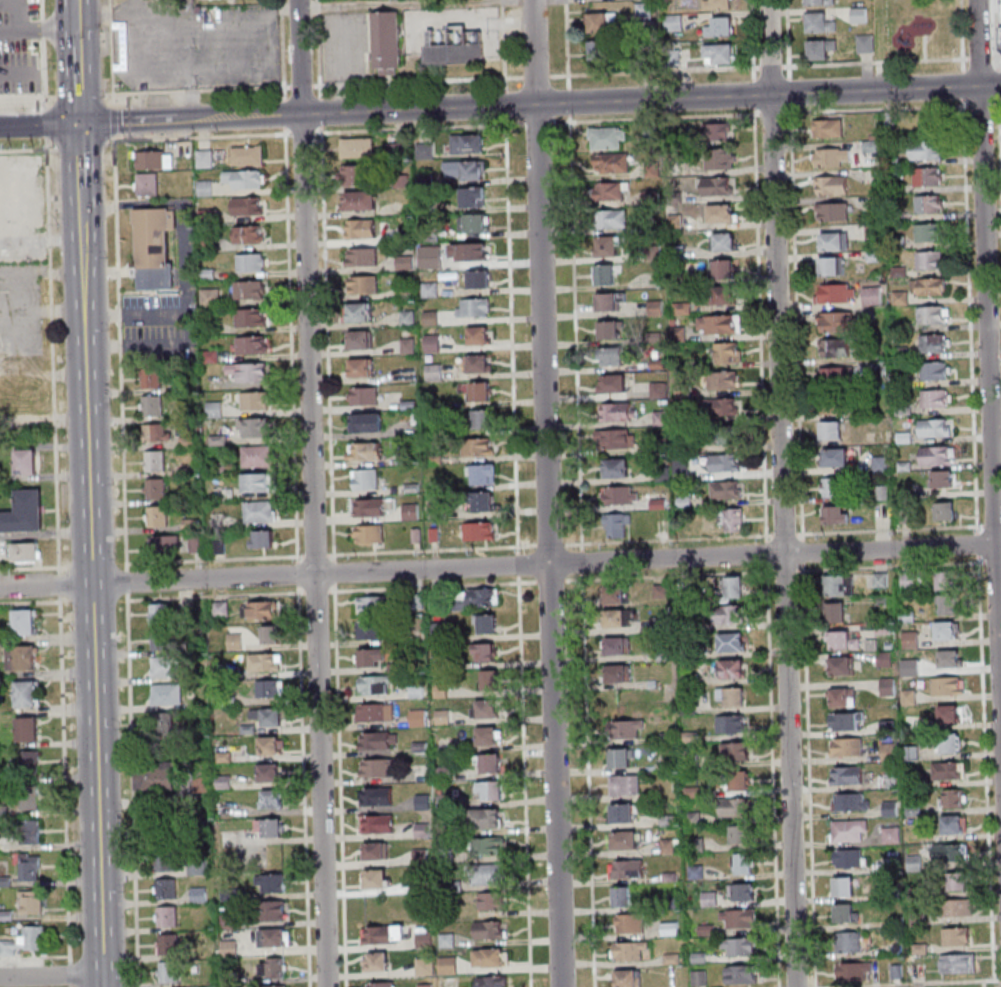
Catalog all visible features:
building: (820, 2)
road: (401, 5)
building: (717, 5)
road: (42, 9)
road: (276, 11)
road: (78, 14)
road: (19, 15)
building: (858, 15)
building: (673, 22)
building: (819, 22)
building: (598, 23)
road: (173, 25)
road: (42, 28)
building: (719, 28)
park: (926, 29)
road: (40, 30)
building: (385, 42)
power substation: (454, 42)
building: (865, 44)
parking lot: (198, 45)
parking lot: (16, 48)
building: (819, 48)
building: (599, 51)
building: (718, 54)
building: (456, 55)
road: (571, 61)
road: (507, 62)
road: (251, 63)
road: (143, 66)
road: (774, 67)
road: (18, 72)
road: (46, 74)
road: (81, 76)
road: (430, 81)
road: (193, 92)
road: (80, 97)
road: (28, 98)
road: (597, 101)
road: (897, 108)
road: (138, 120)
traffic signals: (83, 123)
road: (41, 124)
road: (48, 124)
building: (931, 124)
building: (827, 128)
building: (718, 131)
road: (312, 133)
building: (607, 139)
road: (112, 142)
building: (468, 143)
road: (84, 145)
building: (357, 148)
building: (395, 149)
road: (30, 150)
building: (424, 150)
building: (924, 150)
building: (247, 155)
road: (83, 157)
building: (831, 157)
building: (719, 158)
building: (204, 159)
building: (158, 161)
building: (610, 164)
building: (465, 170)
building: (358, 175)
building: (927, 177)
building: (244, 178)
building: (429, 179)
building: (401, 180)
building: (831, 184)
building: (152, 186)
building: (718, 186)
building: (610, 192)
building: (472, 196)
building: (360, 199)
building: (246, 205)
building: (928, 205)
parking lot: (24, 208)
building: (429, 209)
building: (831, 211)
building: (721, 214)
building: (610, 220)
building: (473, 222)
building: (360, 229)
building: (406, 233)
building: (928, 233)
building: (248, 234)
building: (433, 234)
road: (67, 240)
building: (833, 240)
road: (24, 241)
building: (723, 241)
building: (607, 246)
building: (157, 250)
building: (470, 251)
building: (362, 256)
building: (405, 261)
building: (929, 261)
building: (251, 262)
road: (798, 266)
building: (831, 266)
road: (762, 267)
building: (723, 269)
road: (43, 273)
building: (603, 274)
building: (478, 279)
building: (364, 284)
road: (121, 286)
building: (928, 288)
building: (249, 289)
building: (433, 291)
building: (837, 293)
road: (990, 293)
building: (722, 294)
building: (871, 296)
building: (900, 299)
building: (609, 300)
building: (473, 307)
parking lot: (170, 309)
parking lot: (20, 310)
building: (357, 311)
road: (44, 313)
building: (931, 315)
road: (973, 316)
building: (250, 317)
building: (407, 317)
building: (430, 317)
road: (33, 322)
building: (836, 322)
building: (718, 324)
building: (609, 330)
building: (478, 335)
building: (359, 339)
building: (432, 342)
building: (933, 344)
building: (251, 345)
building: (407, 345)
building: (834, 348)
building: (728, 352)
road: (55, 355)
building: (612, 357)
building: (476, 362)
building: (360, 367)
building: (433, 371)
building: (248, 372)
building: (933, 372)
road: (44, 374)
building: (836, 376)
building: (151, 378)
building: (723, 380)
building: (612, 384)
building: (462, 387)
building: (658, 390)
building: (479, 391)
building: (364, 395)
building: (934, 400)
building: (19, 401)
building: (254, 401)
building: (152, 405)
building: (412, 406)
building: (832, 406)
building: (717, 407)
building: (617, 411)
building: (483, 418)
building: (660, 418)
road: (45, 421)
building: (366, 422)
building: (254, 429)
building: (934, 429)
building: (830, 431)
building: (157, 432)
building: (726, 435)
building: (616, 439)
building: (477, 446)
building: (363, 450)
building: (936, 456)
building: (256, 457)
building: (437, 458)
building: (834, 458)
building: (414, 459)
building: (154, 461)
building: (724, 463)
building: (28, 465)
building: (879, 465)
building: (616, 468)
building: (483, 474)
building: (663, 475)
building: (364, 479)
building: (941, 479)
building: (257, 483)
building: (831, 487)
building: (412, 488)
building: (155, 489)
building: (725, 491)
road: (316, 493)
road: (552, 493)
road: (786, 493)
building: (621, 495)
building: (482, 500)
building: (684, 502)
building: (373, 507)
building: (259, 511)
building: (410, 511)
building: (944, 511)
building: (835, 514)
building: (26, 516)
building: (157, 516)
building: (732, 520)
road: (584, 522)
building: (615, 526)
building: (479, 531)
building: (369, 533)
road: (784, 535)
building: (437, 536)
building: (419, 537)
building: (261, 539)
building: (164, 544)
building: (194, 545)
road: (552, 546)
road: (436, 551)
building: (29, 553)
road: (318, 556)
road: (521, 556)
road: (215, 560)
road: (500, 566)
road: (31, 568)
road: (785, 572)
building: (946, 580)
building: (907, 581)
road: (553, 582)
road: (130, 584)
road: (62, 585)
road: (437, 587)
building: (839, 587)
road: (97, 588)
building: (734, 588)
road: (319, 592)
building: (661, 592)
building: (615, 595)
road: (217, 597)
building: (476, 598)
road: (31, 603)
building: (372, 604)
building: (945, 604)
building: (261, 610)
building: (836, 612)
building: (159, 613)
building: (729, 615)
building: (614, 619)
building: (24, 621)
building: (485, 623)
building: (370, 629)
building: (438, 631)
building: (949, 633)
building: (271, 634)
building: (164, 640)
building: (234, 641)
building: (844, 644)
building: (737, 645)
building: (617, 646)
building: (483, 652)
building: (24, 657)
building: (371, 657)
building: (264, 662)
building: (953, 662)
building: (163, 666)
building: (845, 670)
building: (737, 672)
building: (618, 674)
building: (489, 679)
building: (374, 685)
building: (269, 688)
building: (950, 689)
building: (26, 693)
building: (166, 694)
building: (731, 697)
building: (845, 700)
building: (484, 708)
building: (374, 712)
building: (268, 716)
building: (417, 717)
building: (953, 717)
building: (846, 721)
building: (166, 724)
building: (731, 724)
building: (26, 729)
building: (626, 730)
building: (488, 736)
building: (377, 740)
building: (270, 745)
building: (954, 746)
building: (846, 747)
building: (736, 751)
building: (889, 752)
building: (619, 759)
building: (28, 762)
building: (489, 764)
building: (379, 767)
building: (268, 772)
building: (954, 772)
road: (990, 772)
building: (420, 773)
building: (847, 775)
building: (154, 776)
road: (66, 780)
building: (739, 781)
building: (624, 786)
road: (133, 791)
building: (489, 791)
building: (376, 796)
building: (27, 797)
building: (270, 798)
building: (851, 801)
building: (957, 801)
building: (735, 807)
building: (890, 808)
building: (913, 809)
building: (5, 813)
building: (622, 814)
building: (486, 819)
building: (375, 823)
building: (268, 828)
building: (956, 828)
building: (849, 830)
building: (26, 831)
building: (745, 838)
building: (624, 841)
building: (487, 846)
building: (373, 851)
building: (954, 855)
building: (847, 858)
building: (166, 861)
building: (744, 863)
building: (29, 866)
building: (197, 866)
building: (627, 869)
building: (488, 874)
building: (375, 878)
building: (5, 880)
building: (269, 883)
building: (961, 884)
building: (166, 888)
building: (848, 890)
building: (741, 891)
building: (198, 894)
building: (621, 897)
building: (491, 900)
building: (31, 901)
building: (272, 910)
building: (958, 910)
building: (6, 914)
building: (848, 915)
building: (167, 916)
building: (738, 919)
building: (629, 923)
building: (489, 929)
building: (669, 929)
building: (382, 934)
building: (273, 937)
building: (423, 937)
building: (446, 939)
building: (958, 939)
building: (23, 940)
building: (848, 942)
building: (167, 944)
building: (738, 947)
building: (228, 948)
building: (629, 951)
road: (35, 956)
building: (489, 957)
building: (671, 959)
building: (376, 961)
building: (447, 965)
building: (272, 966)
building: (960, 966)
building: (424, 968)
building: (168, 971)
building: (853, 971)
building: (741, 974)
road: (73, 975)
road: (54, 976)
building: (625, 978)
building: (698, 978)
building: (491, 981)
road: (922, 983)
building: (380, 984)
building: (425, 985)
road: (74, 986)
building: (273, 986)

